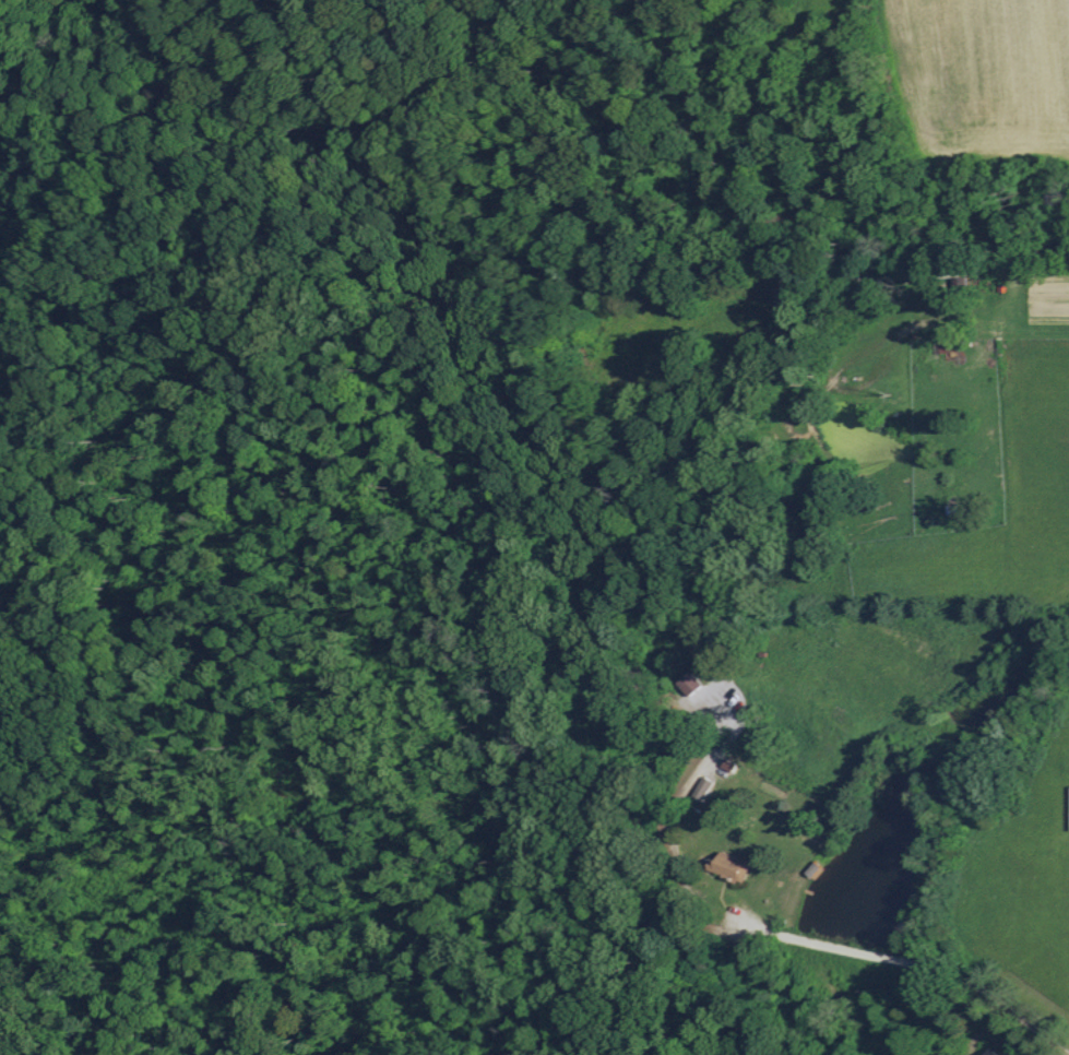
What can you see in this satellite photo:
road: (1030, 269)
building: (689, 683)
building: (701, 789)
building: (1068, 813)
building: (727, 865)
road: (896, 953)

